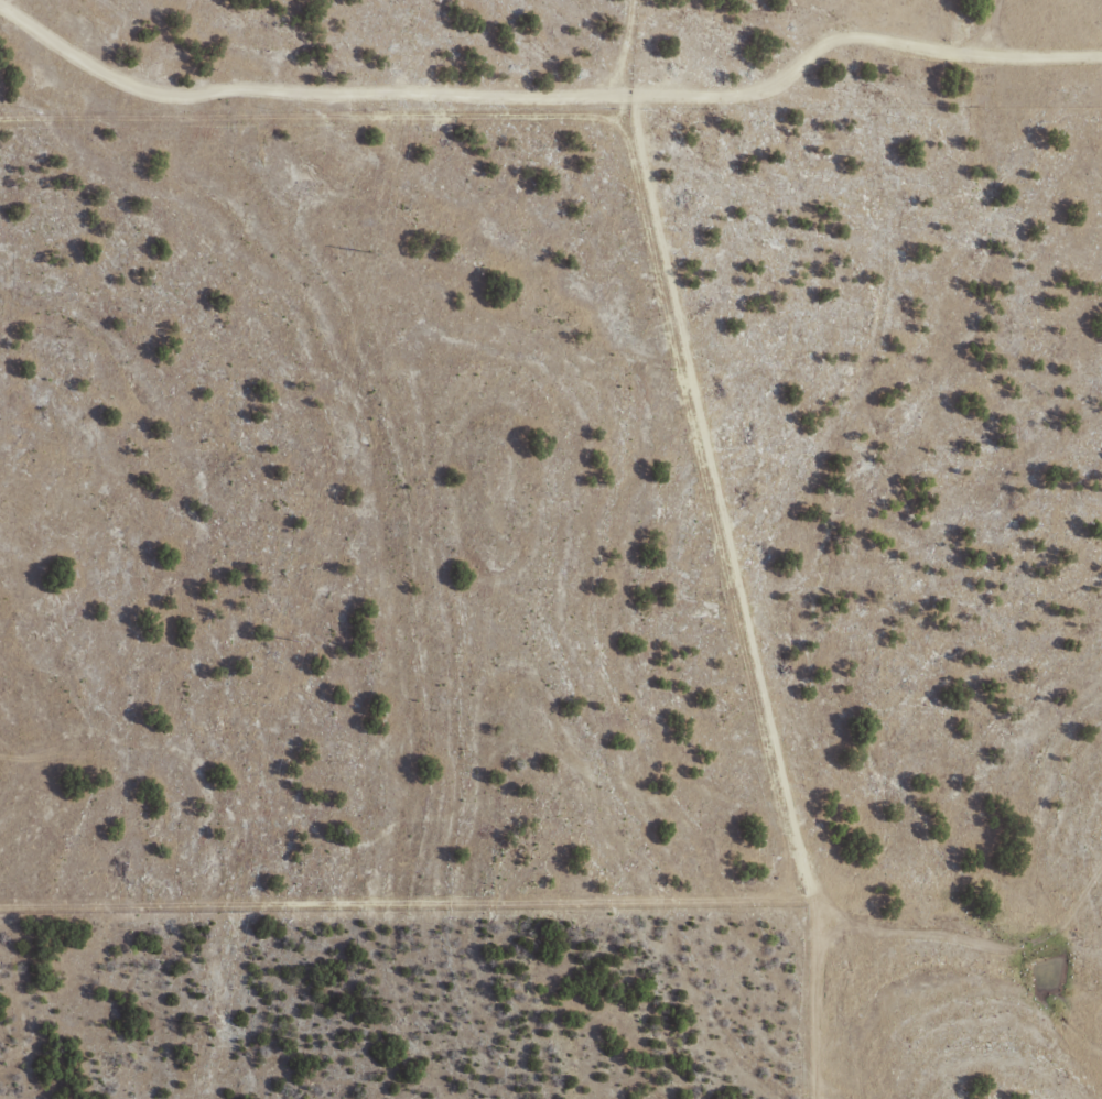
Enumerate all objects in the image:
power tower: (375, 252)
power tower: (294, 639)
power tower: (212, 1026)

